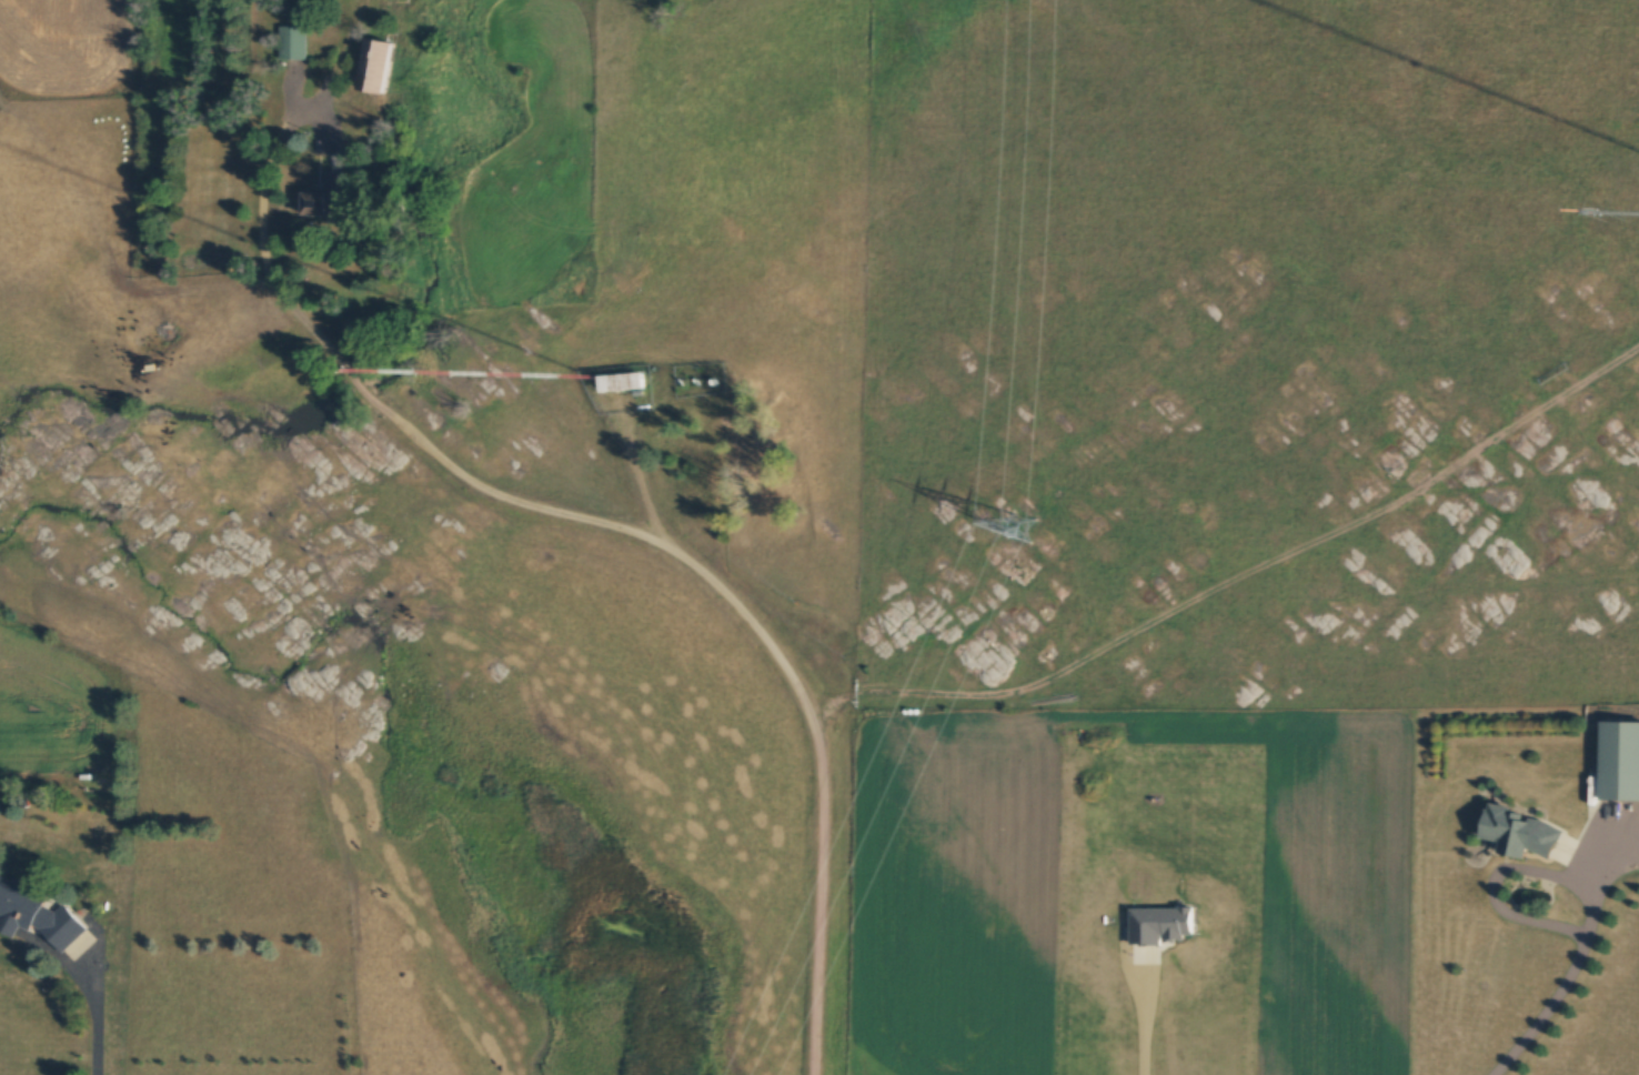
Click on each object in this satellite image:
building: (290, 44)
building: (380, 68)
building: (318, 203)
building: (622, 382)
road: (615, 530)
power tower: (1018, 544)
building: (1619, 763)
building: (1518, 834)
road: (1502, 874)
building: (39, 920)
road: (1548, 1012)
road: (88, 1018)
road: (1145, 1032)

